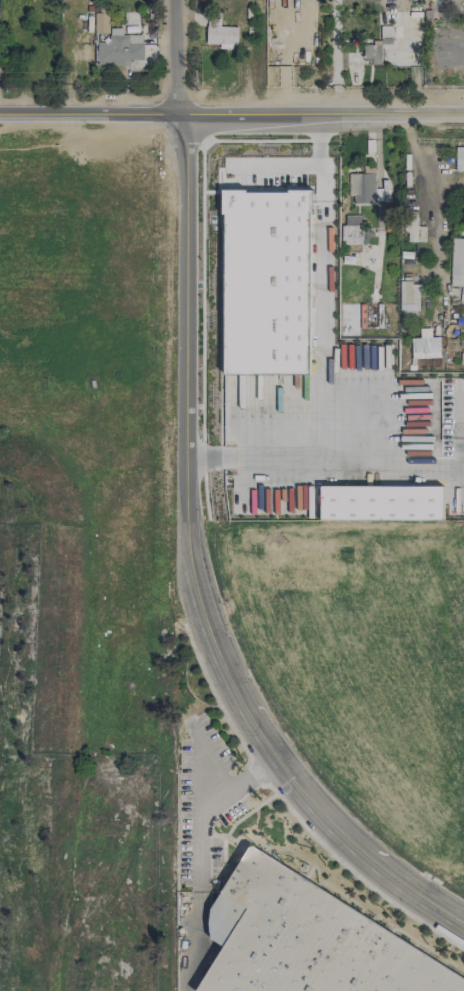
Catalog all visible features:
building: (102, 20)
building: (222, 35)
building: (149, 39)
building: (119, 49)
building: (372, 53)
road: (336, 56)
road: (175, 58)
road: (231, 117)
building: (459, 158)
road: (276, 164)
building: (361, 187)
road: (435, 208)
building: (355, 231)
building: (415, 231)
building: (457, 264)
building: (266, 282)
road: (325, 285)
building: (409, 296)
building: (425, 347)
road: (251, 455)
building: (381, 503)
road: (191, 572)
road: (203, 858)
building: (308, 942)

